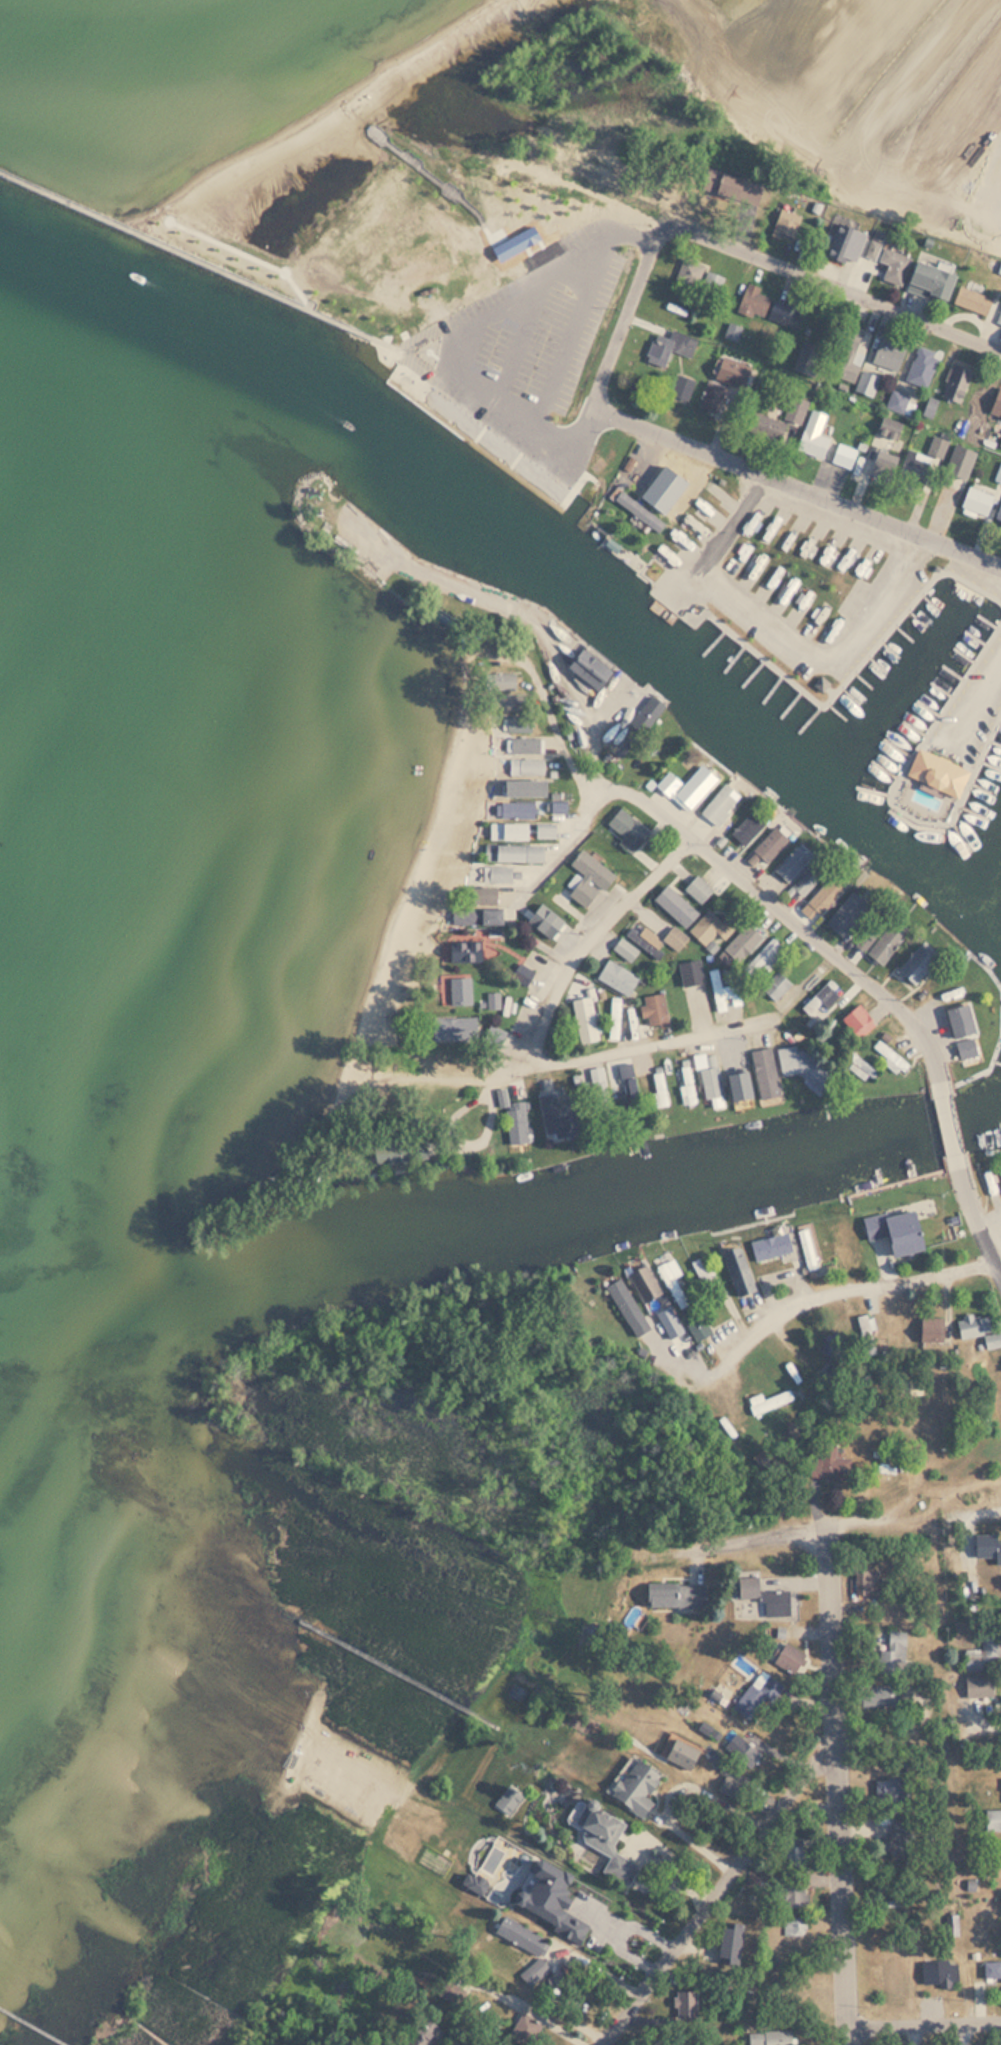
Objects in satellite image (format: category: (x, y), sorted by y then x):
park: (516, 168)
building: (730, 187)
road: (454, 192)
building: (785, 224)
building: (843, 243)
road: (204, 257)
building: (885, 259)
building: (688, 272)
building: (930, 275)
road: (530, 279)
building: (712, 283)
road: (831, 283)
building: (971, 301)
building: (753, 302)
building: (785, 316)
road: (623, 317)
building: (999, 317)
road: (575, 327)
building: (733, 331)
building: (667, 347)
building: (848, 353)
building: (888, 353)
building: (921, 366)
building: (867, 384)
building: (955, 384)
building: (681, 387)
building: (710, 396)
building: (897, 402)
building: (999, 412)
building: (782, 420)
building: (888, 428)
building: (813, 435)
building: (1000, 442)
road: (708, 450)
building: (843, 456)
building: (959, 463)
building: (922, 464)
building: (880, 466)
building: (979, 503)
building: (637, 510)
road: (794, 563)
building: (899, 605)
building: (678, 608)
road: (765, 635)
road: (552, 651)
river: (676, 657)
building: (585, 664)
building: (498, 679)
building: (507, 701)
road: (976, 707)
building: (517, 723)
building: (525, 744)
building: (525, 765)
building: (936, 771)
building: (667, 783)
building: (693, 786)
building: (522, 787)
building: (930, 792)
building: (719, 803)
building: (515, 809)
building: (627, 826)
building: (745, 826)
building: (506, 830)
building: (542, 831)
building: (764, 847)
road: (556, 848)
building: (511, 852)
building: (790, 864)
building: (497, 873)
building: (587, 877)
building: (807, 879)
building: (697, 888)
building: (481, 895)
building: (824, 895)
building: (674, 905)
building: (844, 913)
building: (474, 916)
building: (708, 927)
building: (867, 933)
building: (675, 938)
road: (588, 939)
building: (645, 940)
building: (742, 943)
road: (822, 943)
building: (884, 944)
building: (625, 949)
building: (463, 951)
building: (765, 957)
building: (914, 964)
building: (690, 971)
building: (521, 974)
building: (616, 977)
building: (778, 986)
building: (459, 990)
building: (723, 990)
building: (822, 997)
building: (493, 1000)
building: (654, 1009)
building: (614, 1018)
building: (583, 1019)
building: (857, 1019)
building: (957, 1019)
building: (452, 1028)
building: (493, 1035)
road: (683, 1036)
building: (964, 1046)
building: (888, 1055)
building: (799, 1062)
building: (858, 1066)
building: (764, 1072)
building: (737, 1076)
building: (710, 1079)
building: (685, 1084)
building: (659, 1088)
building: (597, 1090)
building: (553, 1114)
road: (947, 1114)
building: (512, 1118)
building: (388, 1156)
road: (975, 1210)
building: (893, 1230)
building: (771, 1245)
building: (737, 1269)
building: (644, 1281)
building: (674, 1284)
building: (626, 1304)
road: (799, 1305)
building: (696, 1323)
building: (929, 1329)
building: (977, 1329)
building: (866, 1334)
building: (768, 1401)
building: (826, 1463)
road: (849, 1525)
building: (989, 1545)
building: (864, 1581)
building: (674, 1596)
building: (763, 1596)
building: (983, 1652)
building: (893, 1653)
building: (978, 1685)
building: (878, 1695)
building: (752, 1697)
building: (742, 1751)
building: (680, 1752)
building: (727, 1786)
road: (833, 1786)
building: (634, 1787)
building: (889, 1790)
building: (508, 1801)
building: (991, 1820)
building: (603, 1840)
building: (893, 1843)
road: (715, 1892)
building: (791, 1895)
building: (551, 1896)
building: (795, 1927)
building: (522, 1943)
building: (729, 1943)
building: (991, 1969)
building: (946, 1974)
building: (448, 1996)
building: (686, 2007)
road: (923, 2021)
building: (523, 2030)
building: (423, 2033)
building: (770, 2037)

